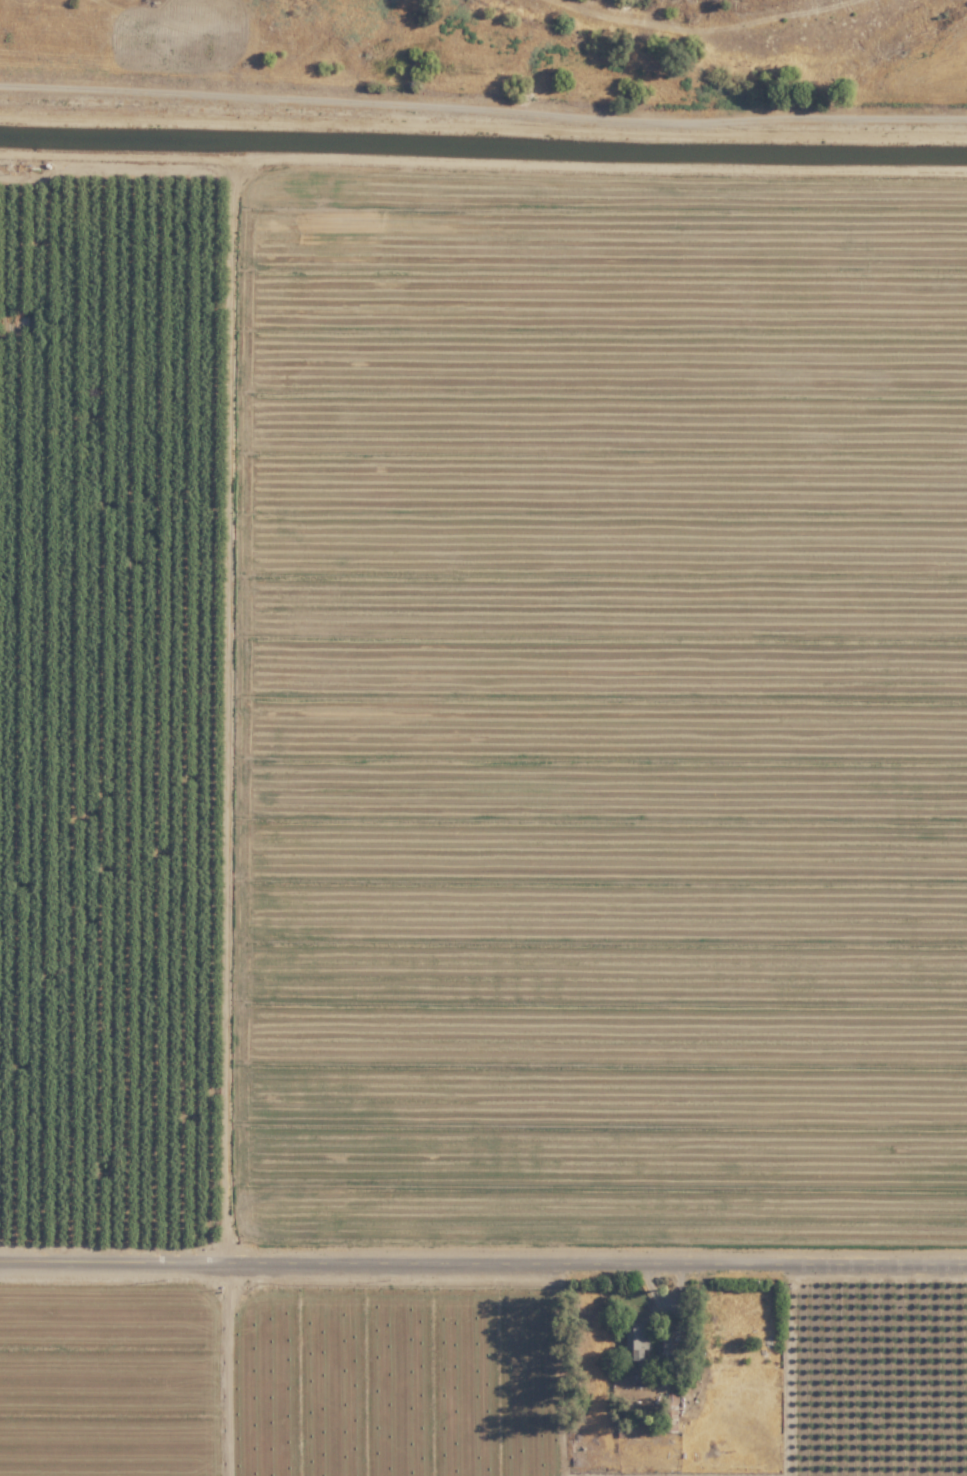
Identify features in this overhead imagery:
crop: (571, 846)
road: (483, 1262)
building: (634, 1337)

